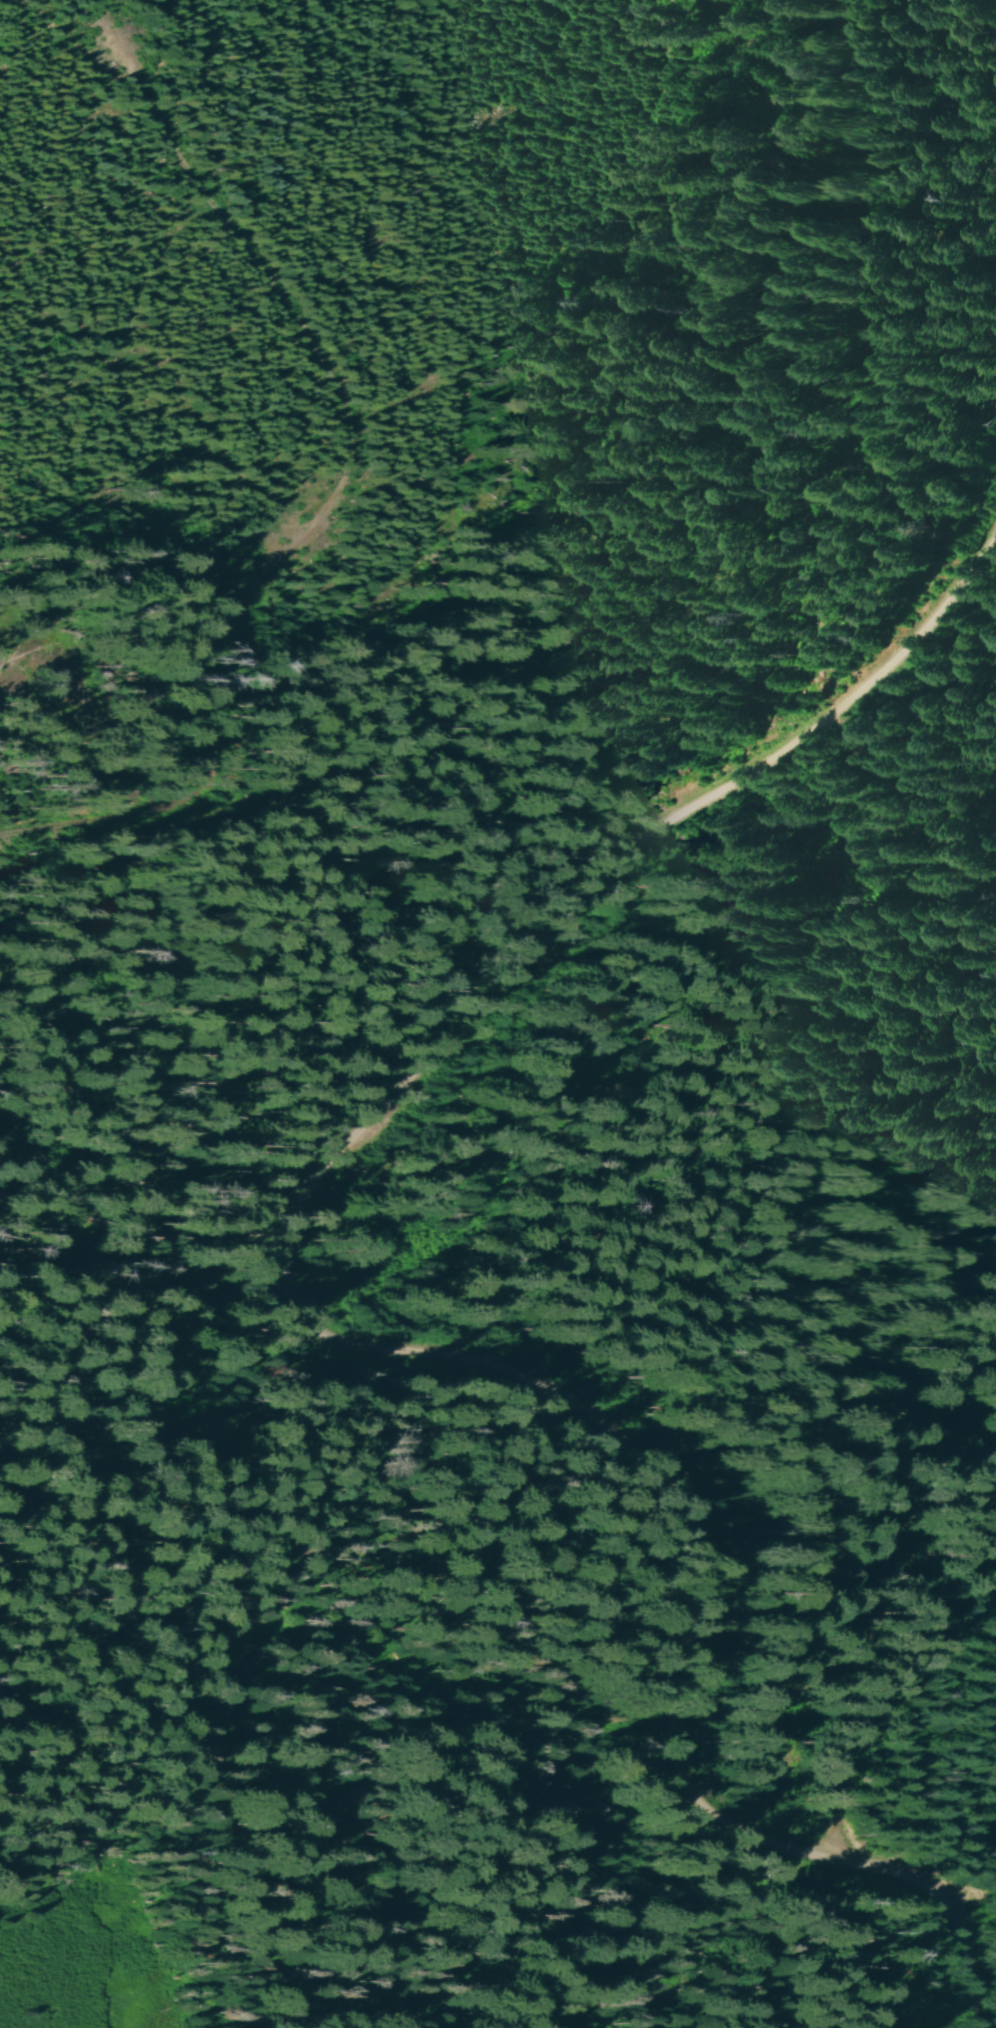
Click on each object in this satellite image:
road: (333, 482)
road: (311, 1331)

